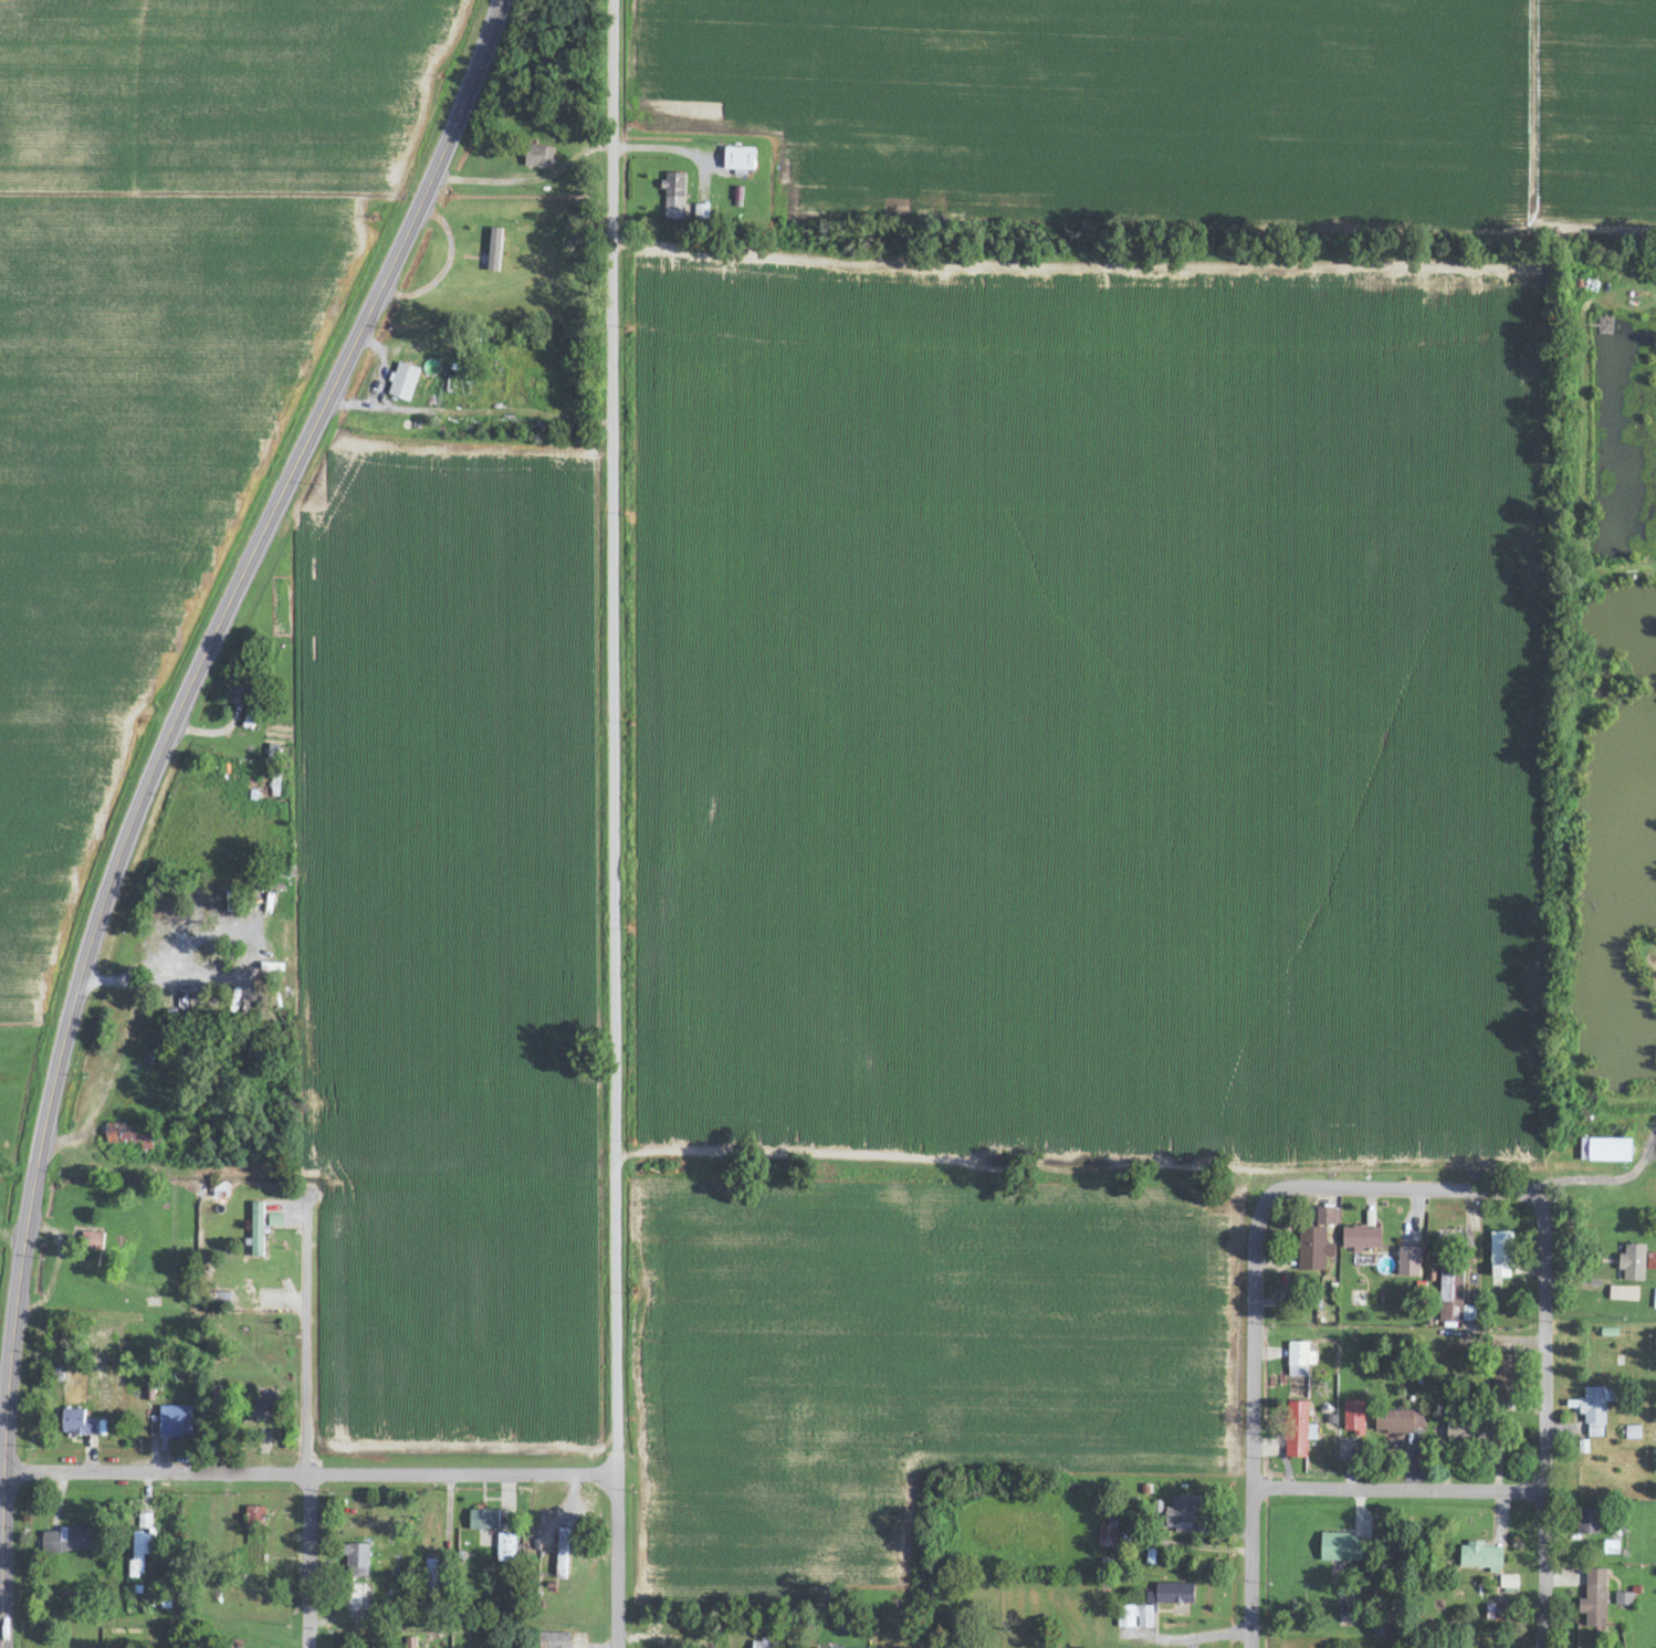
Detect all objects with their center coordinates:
building: (539, 156)
building: (740, 160)
building: (674, 196)
building: (494, 250)
building: (403, 381)
road: (470, 412)
road: (218, 626)
crop: (448, 797)
road: (611, 823)
building: (129, 1134)
building: (1605, 1151)
road: (945, 1163)
road: (415, 1180)
road: (1396, 1186)
building: (275, 1221)
building: (256, 1229)
building: (1361, 1238)
building: (93, 1241)
building: (1317, 1241)
building: (1501, 1255)
building: (1408, 1262)
building: (1633, 1262)
building: (1624, 1293)
building: (1454, 1298)
building: (1358, 1299)
crop: (460, 1319)
building: (1299, 1360)
building: (1503, 1378)
building: (1595, 1409)
building: (259, 1410)
building: (1354, 1417)
building: (176, 1423)
building: (1400, 1423)
building: (77, 1424)
road: (1548, 1425)
road: (1253, 1428)
building: (1298, 1430)
building: (1633, 1432)
building: (1469, 1434)
road: (2, 1451)
road: (308, 1461)
road: (6, 1465)
road: (782, 1474)
building: (1183, 1513)
building: (254, 1516)
building: (484, 1521)
building: (1589, 1522)
building: (1108, 1536)
building: (69, 1541)
building: (506, 1549)
building: (1341, 1549)
building: (140, 1553)
building: (562, 1554)
building: (1480, 1557)
building: (356, 1560)
building: (431, 1575)
building: (1509, 1582)
building: (1594, 1599)
building: (1623, 1599)
road: (2, 1602)
building: (1124, 1606)
building: (1493, 1613)
building: (1382, 1627)
road: (1187, 1637)
building: (554, 1640)
road: (678, 1640)
building: (764, 1644)

